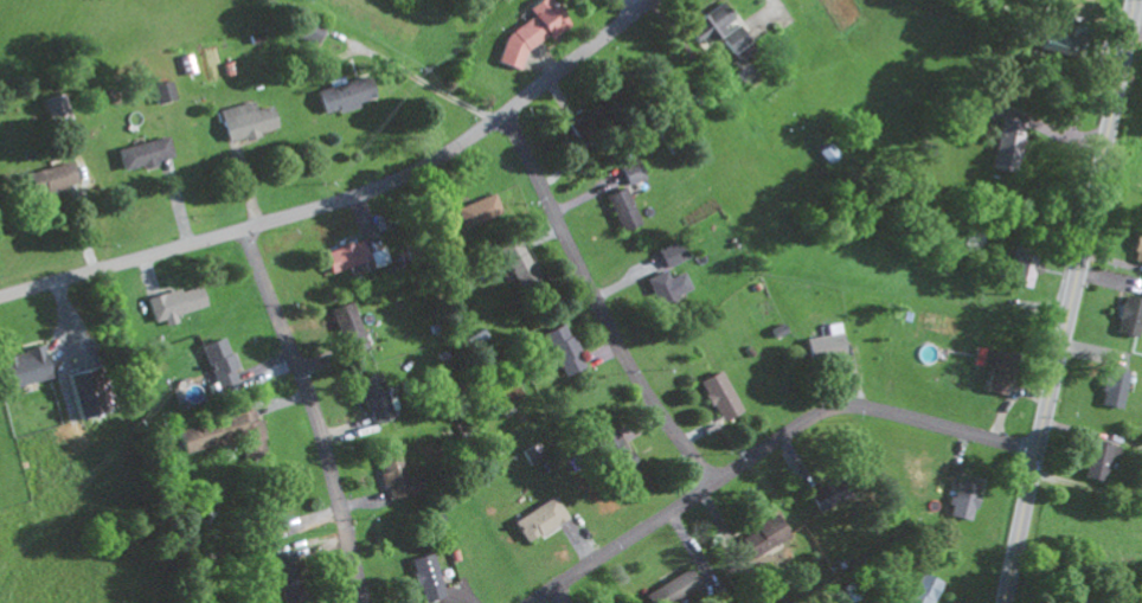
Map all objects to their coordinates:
road: (639, 4)
building: (705, 24)
building: (308, 32)
building: (528, 33)
building: (734, 43)
building: (159, 91)
building: (341, 95)
building: (53, 109)
building: (243, 121)
building: (1006, 146)
building: (141, 153)
building: (629, 172)
building: (49, 178)
road: (347, 193)
building: (618, 210)
building: (476, 211)
building: (1136, 249)
building: (668, 254)
building: (342, 256)
building: (514, 261)
building: (1020, 268)
building: (663, 288)
road: (1070, 301)
building: (172, 304)
road: (598, 304)
building: (1127, 315)
building: (346, 328)
building: (475, 338)
building: (822, 344)
building: (560, 349)
building: (217, 364)
building: (21, 367)
building: (996, 372)
building: (1110, 387)
building: (79, 393)
building: (718, 396)
building: (372, 398)
road: (316, 410)
building: (220, 432)
road: (770, 447)
building: (531, 454)
building: (616, 456)
building: (1096, 460)
building: (392, 474)
building: (823, 496)
building: (961, 499)
building: (270, 517)
building: (538, 519)
building: (761, 534)
building: (284, 577)
building: (424, 577)
building: (672, 588)
building: (917, 590)
building: (1067, 601)

